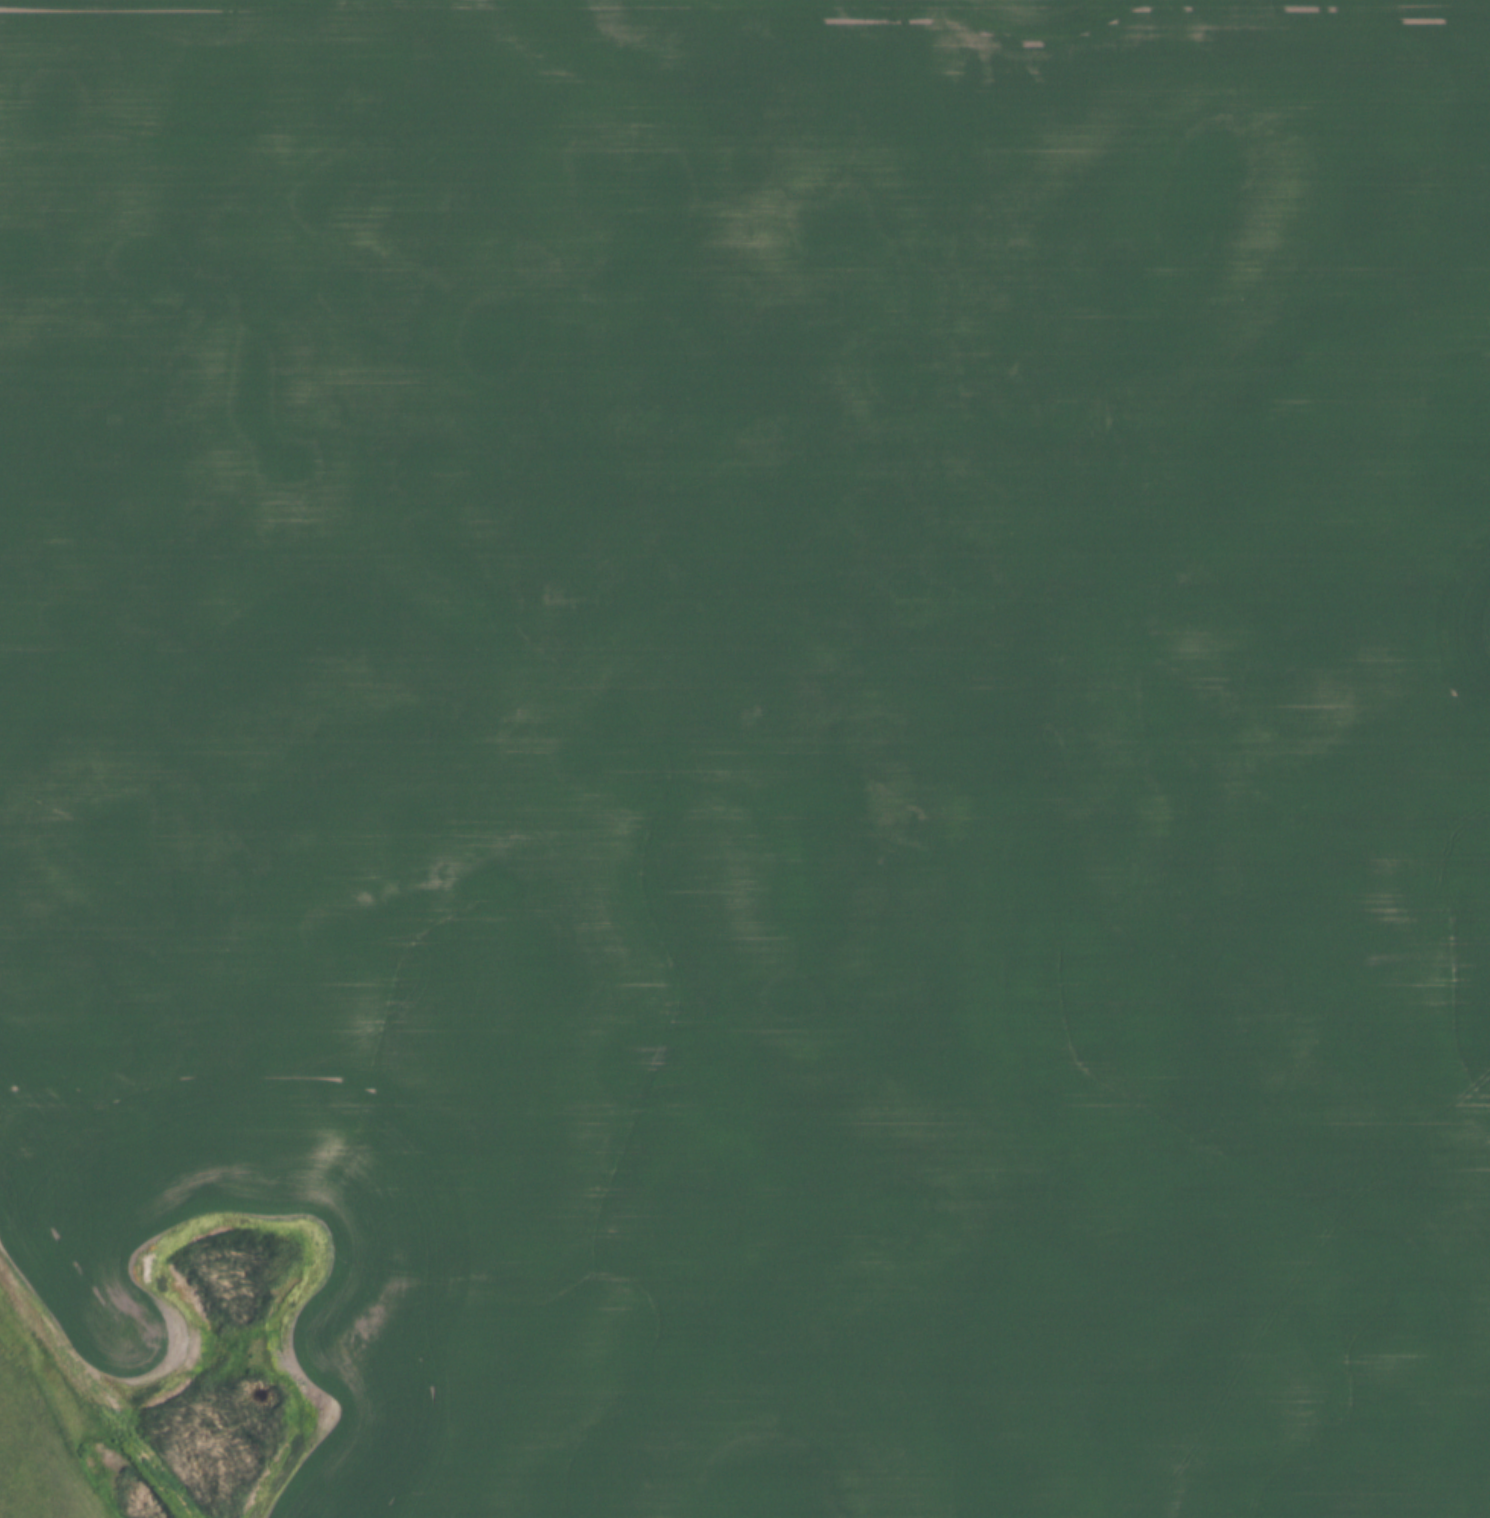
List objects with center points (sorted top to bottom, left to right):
railway: (96, 1391)

